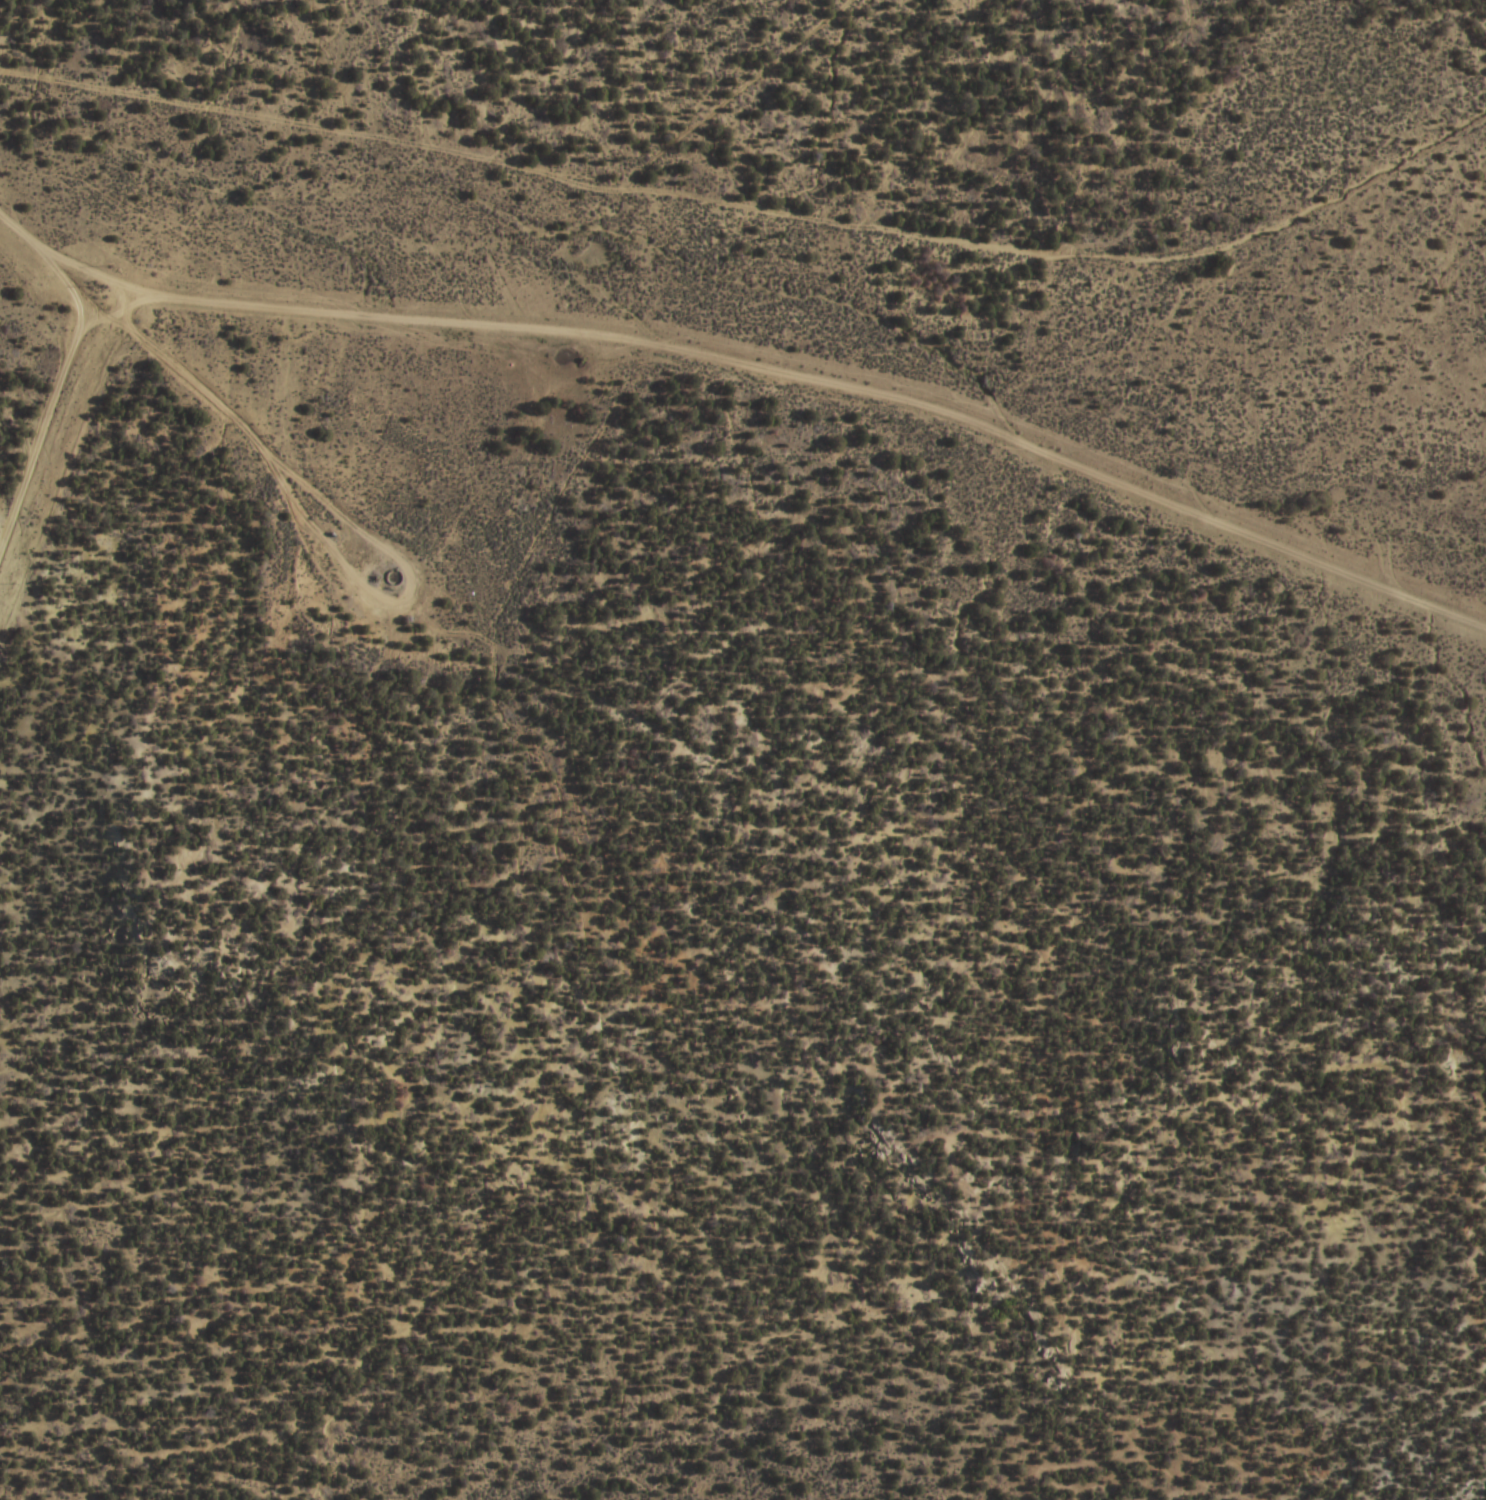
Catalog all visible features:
road: (758, 212)
road: (54, 293)
road: (815, 415)
road: (236, 439)

